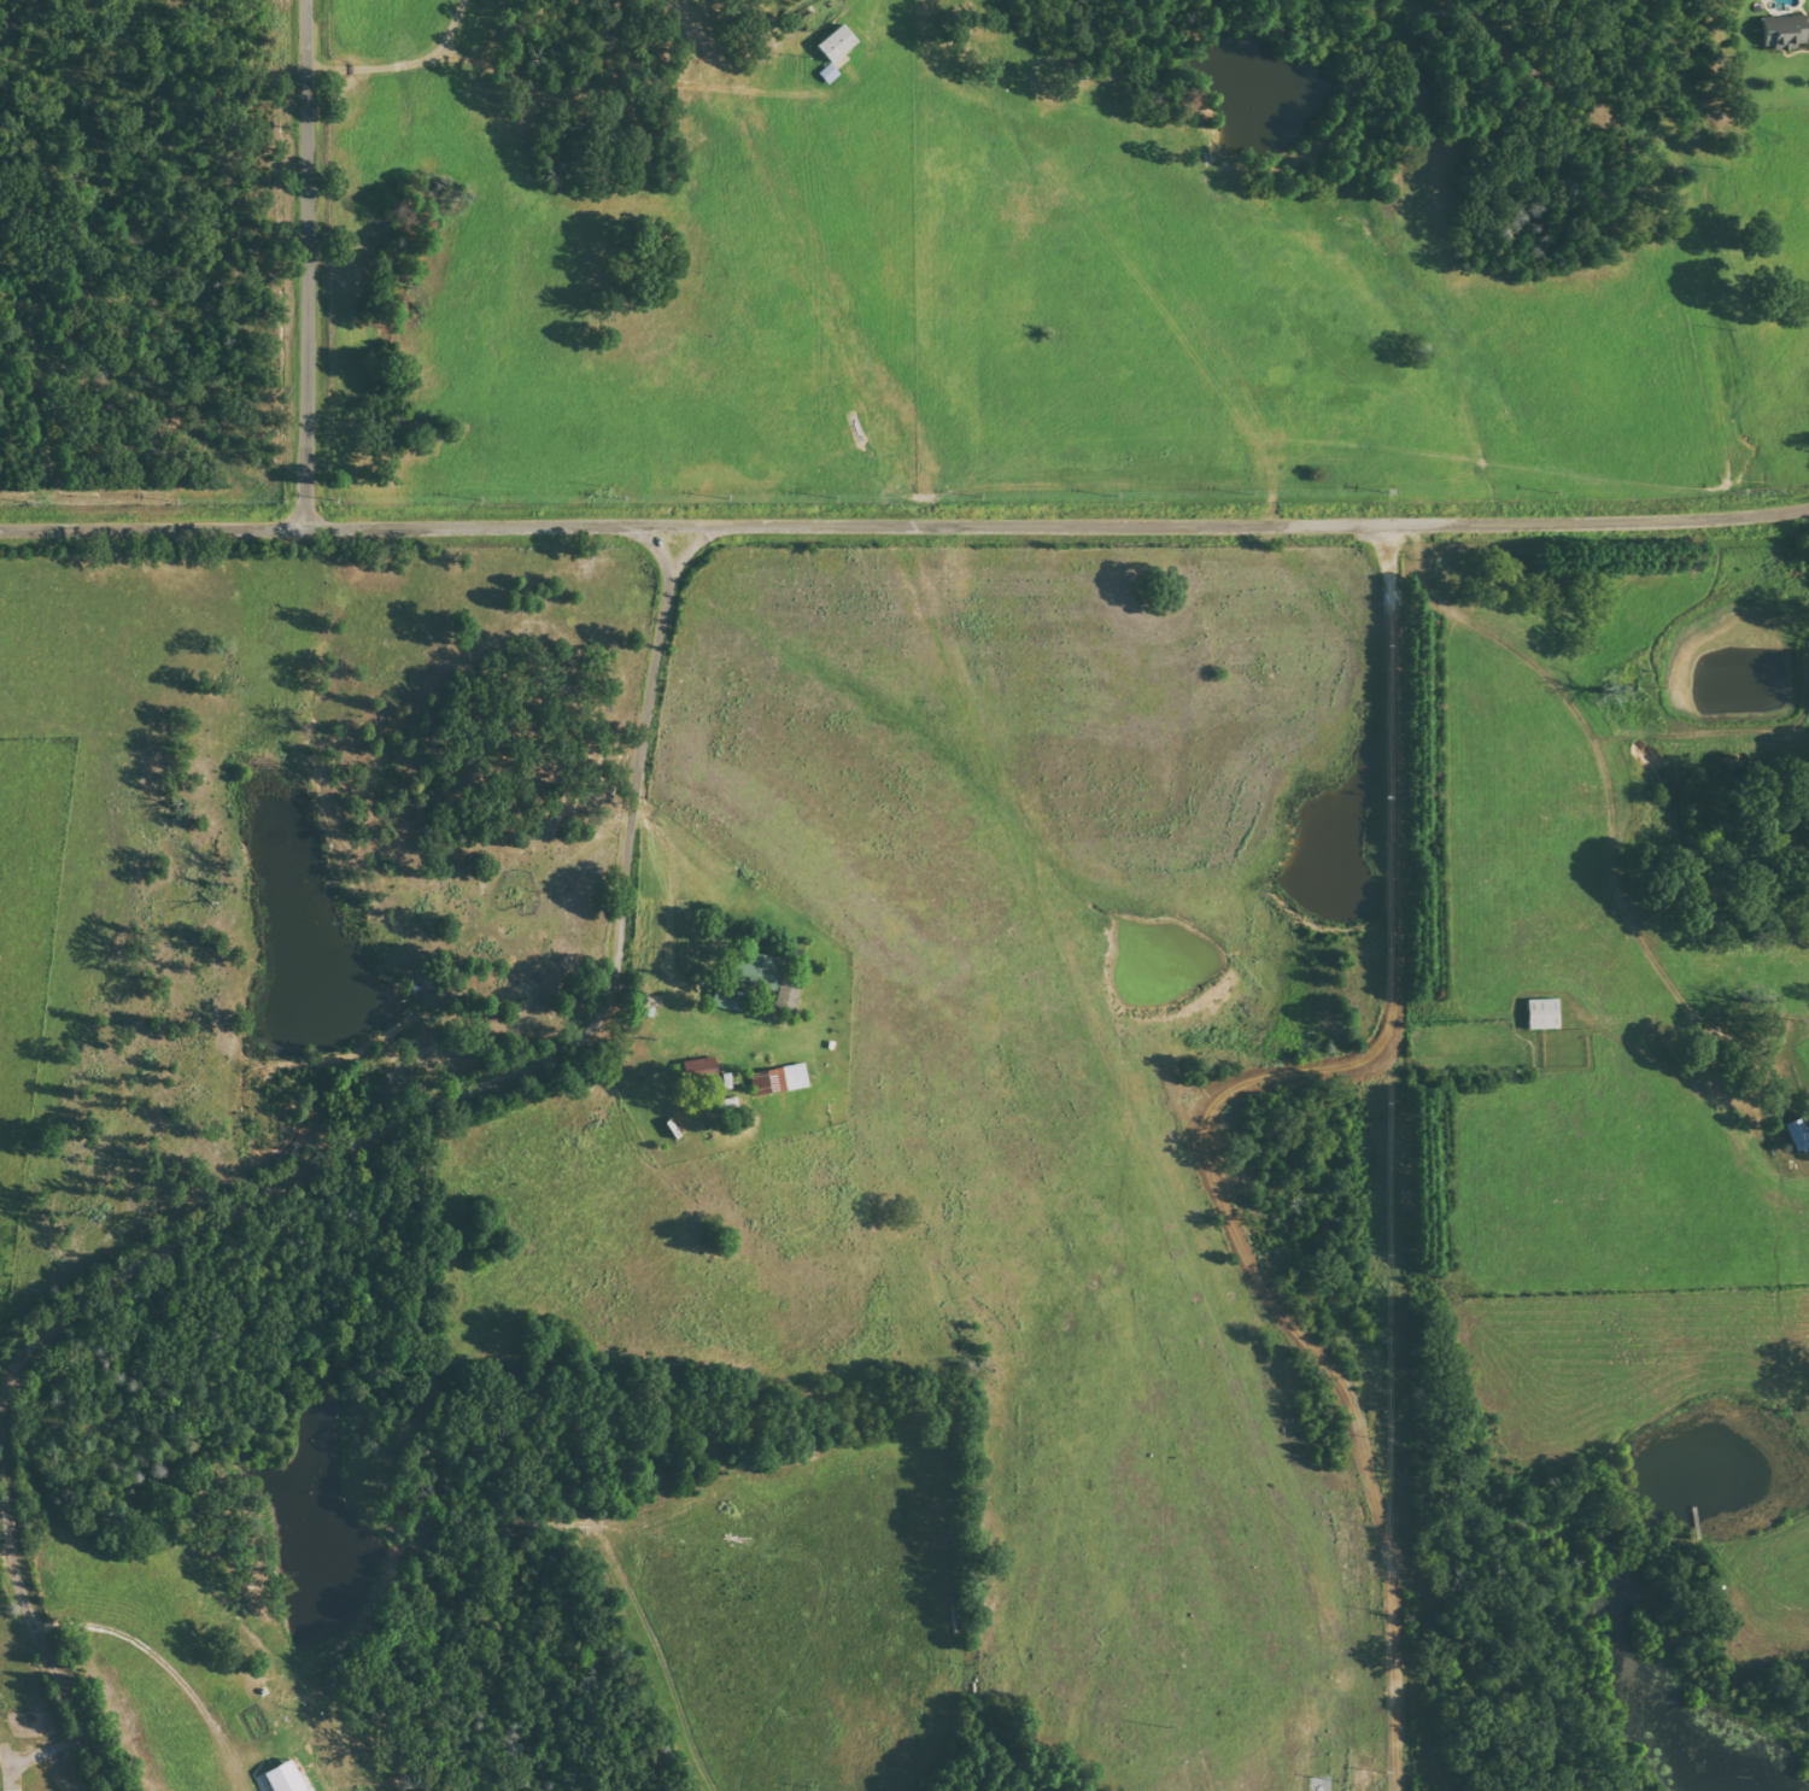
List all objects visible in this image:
building: (1808, 28)
building: (1786, 31)
building: (837, 43)
building: (830, 74)
road: (309, 264)
road: (904, 526)
road: (1399, 931)
building: (760, 968)
building: (788, 994)
building: (726, 996)
building: (1544, 1013)
building: (780, 1079)
road: (493, 1093)
building: (1798, 1132)
road: (39, 1682)

